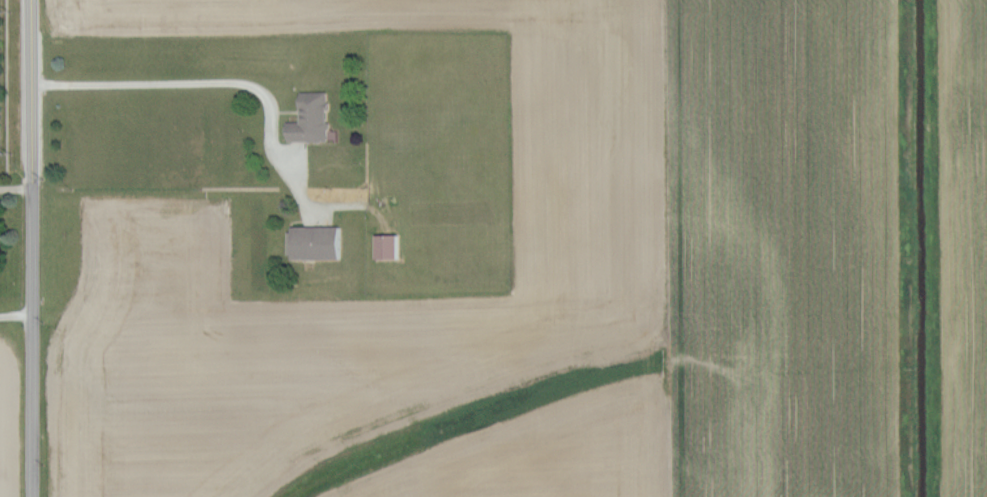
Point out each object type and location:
road: (234, 84)
road: (10, 86)
building: (312, 118)
road: (14, 190)
building: (317, 241)
building: (390, 246)
road: (29, 248)
crop: (155, 249)
crop: (604, 278)
road: (15, 316)
crop: (11, 417)

